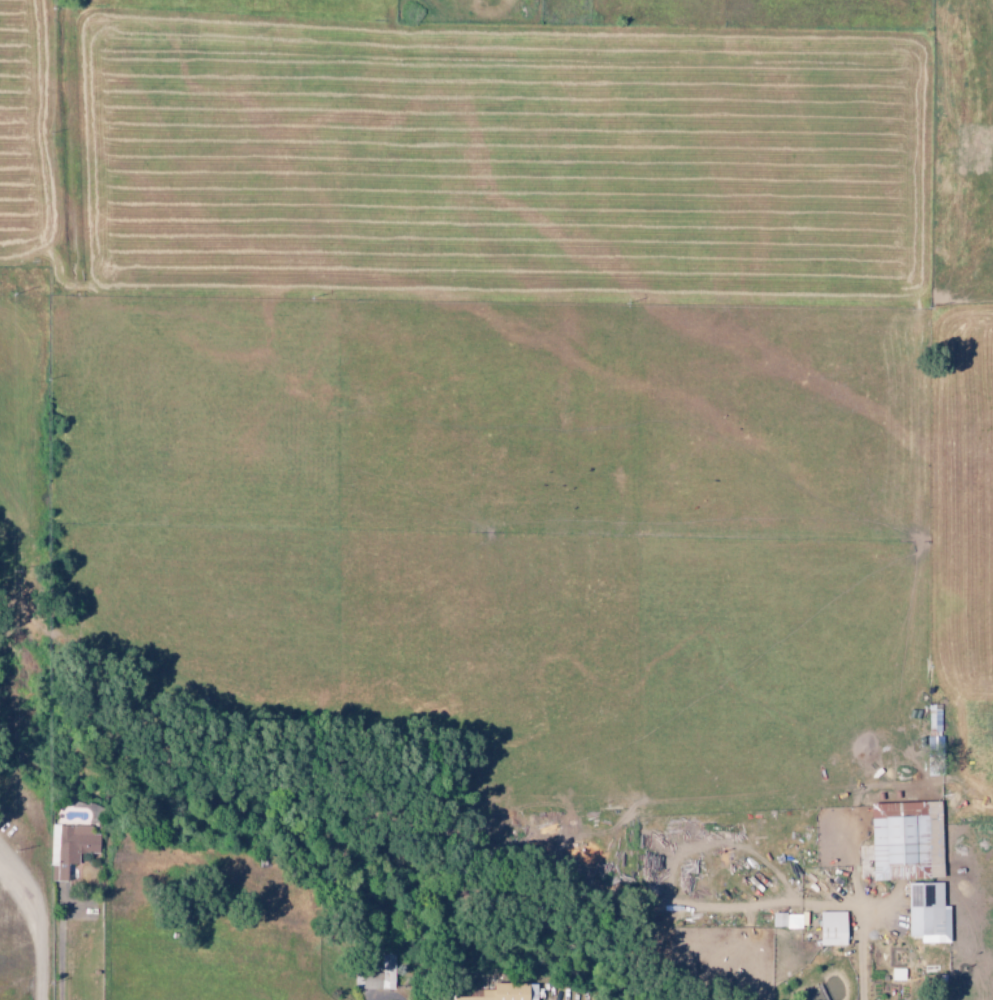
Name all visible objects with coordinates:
building: (909, 840)
building: (70, 848)
building: (930, 912)
road: (44, 918)
building: (788, 920)
building: (835, 928)
building: (382, 976)
building: (501, 992)
building: (441, 999)

